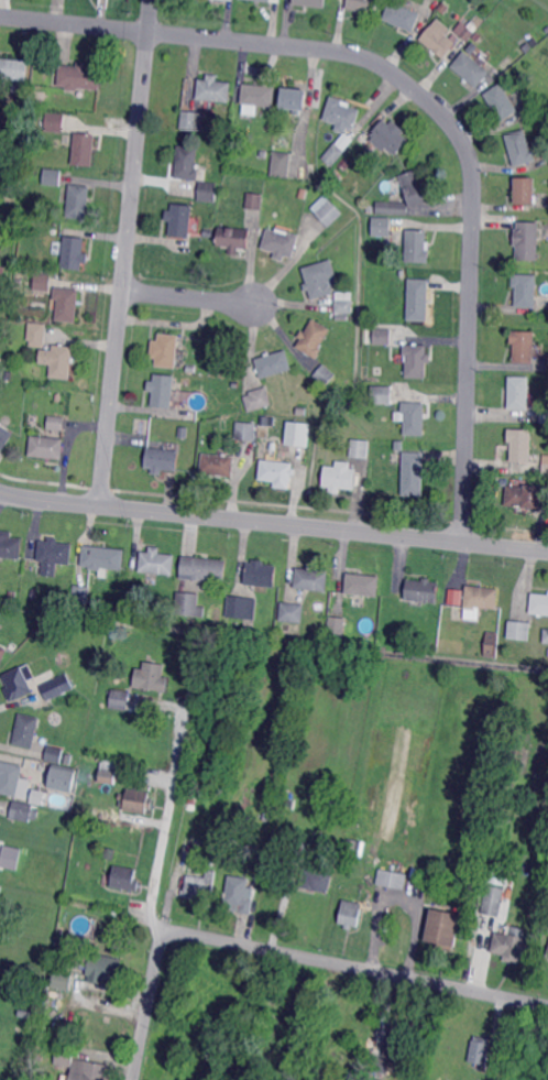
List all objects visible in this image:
building: (226, 0)
building: (266, 0)
building: (310, 2)
building: (363, 6)
building: (402, 15)
building: (544, 22)
building: (546, 30)
building: (467, 31)
building: (476, 37)
building: (438, 39)
building: (534, 42)
building: (527, 47)
building: (513, 56)
building: (14, 68)
building: (470, 68)
building: (80, 78)
building: (213, 89)
building: (259, 95)
building: (294, 99)
building: (502, 101)
road: (431, 105)
building: (36, 109)
building: (342, 113)
building: (193, 120)
building: (55, 122)
building: (267, 134)
building: (388, 137)
building: (85, 149)
building: (519, 150)
building: (333, 154)
building: (186, 163)
building: (346, 163)
building: (281, 164)
building: (337, 175)
building: (53, 176)
building: (413, 187)
building: (208, 190)
building: (525, 192)
building: (302, 194)
building: (253, 200)
building: (79, 201)
building: (392, 208)
building: (326, 210)
building: (179, 219)
building: (381, 227)
building: (209, 233)
building: (233, 238)
building: (527, 240)
building: (281, 243)
building: (417, 246)
building: (74, 252)
road: (125, 252)
building: (386, 261)
building: (2, 272)
building: (402, 273)
building: (319, 279)
building: (43, 282)
building: (525, 291)
road: (188, 297)
building: (418, 299)
building: (344, 302)
building: (67, 304)
building: (341, 317)
building: (36, 335)
building: (382, 336)
building: (313, 338)
building: (523, 347)
building: (165, 349)
building: (57, 361)
building: (416, 361)
building: (273, 363)
building: (216, 371)
building: (324, 375)
building: (161, 390)
building: (517, 393)
building: (380, 395)
building: (366, 397)
building: (256, 400)
building: (300, 412)
building: (545, 415)
building: (413, 418)
building: (56, 423)
building: (245, 430)
building: (183, 433)
building: (297, 434)
building: (4, 436)
building: (520, 444)
building: (399, 445)
building: (46, 447)
building: (360, 448)
building: (162, 459)
building: (545, 462)
building: (218, 465)
building: (276, 470)
building: (417, 470)
building: (339, 478)
building: (527, 495)
road: (273, 522)
building: (10, 545)
building: (54, 555)
building: (106, 557)
building: (157, 561)
building: (202, 568)
building: (260, 572)
building: (311, 579)
building: (363, 585)
building: (423, 590)
building: (34, 593)
building: (84, 593)
building: (12, 594)
building: (453, 596)
building: (480, 597)
building: (187, 603)
building: (538, 603)
building: (99, 604)
building: (241, 608)
building: (156, 612)
building: (292, 612)
building: (470, 612)
building: (337, 625)
building: (519, 630)
building: (545, 635)
building: (423, 643)
building: (491, 644)
building: (13, 646)
building: (2, 653)
building: (151, 676)
building: (17, 684)
building: (56, 687)
building: (120, 699)
building: (541, 706)
building: (26, 729)
building: (54, 753)
building: (67, 759)
building: (107, 776)
building: (10, 777)
building: (63, 777)
building: (125, 779)
building: (216, 795)
building: (41, 796)
building: (136, 800)
building: (288, 803)
building: (268, 804)
building: (21, 810)
road: (164, 828)
building: (265, 828)
building: (195, 849)
building: (99, 853)
building: (110, 853)
building: (9, 855)
building: (348, 865)
building: (497, 874)
building: (310, 876)
building: (125, 879)
building: (388, 879)
building: (0, 884)
building: (200, 887)
building: (1, 890)
building: (239, 894)
road: (401, 895)
building: (493, 901)
building: (350, 914)
building: (440, 929)
building: (517, 945)
building: (547, 957)
building: (103, 967)
road: (359, 967)
building: (59, 981)
road: (147, 1005)
building: (348, 1027)
building: (396, 1043)
building: (479, 1050)
building: (64, 1056)
building: (380, 1065)
building: (425, 1067)
building: (359, 1069)
building: (91, 1071)

